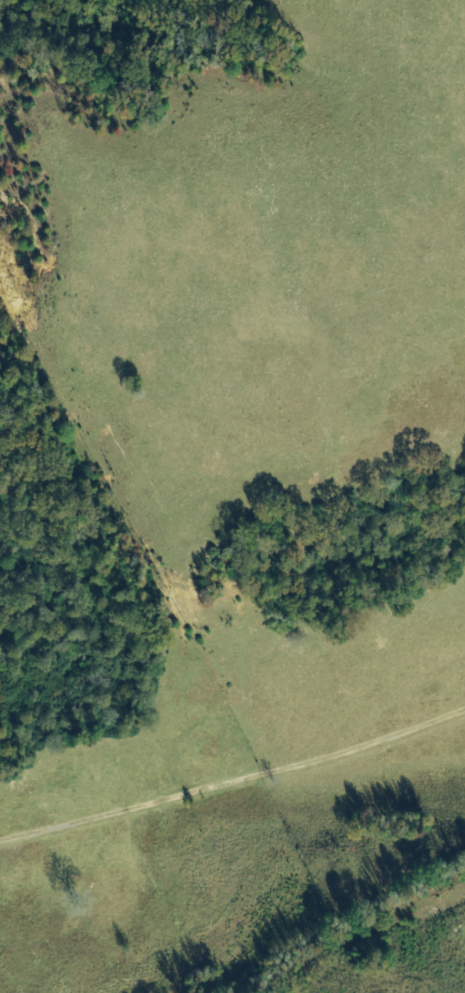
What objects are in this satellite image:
road: (233, 776)

